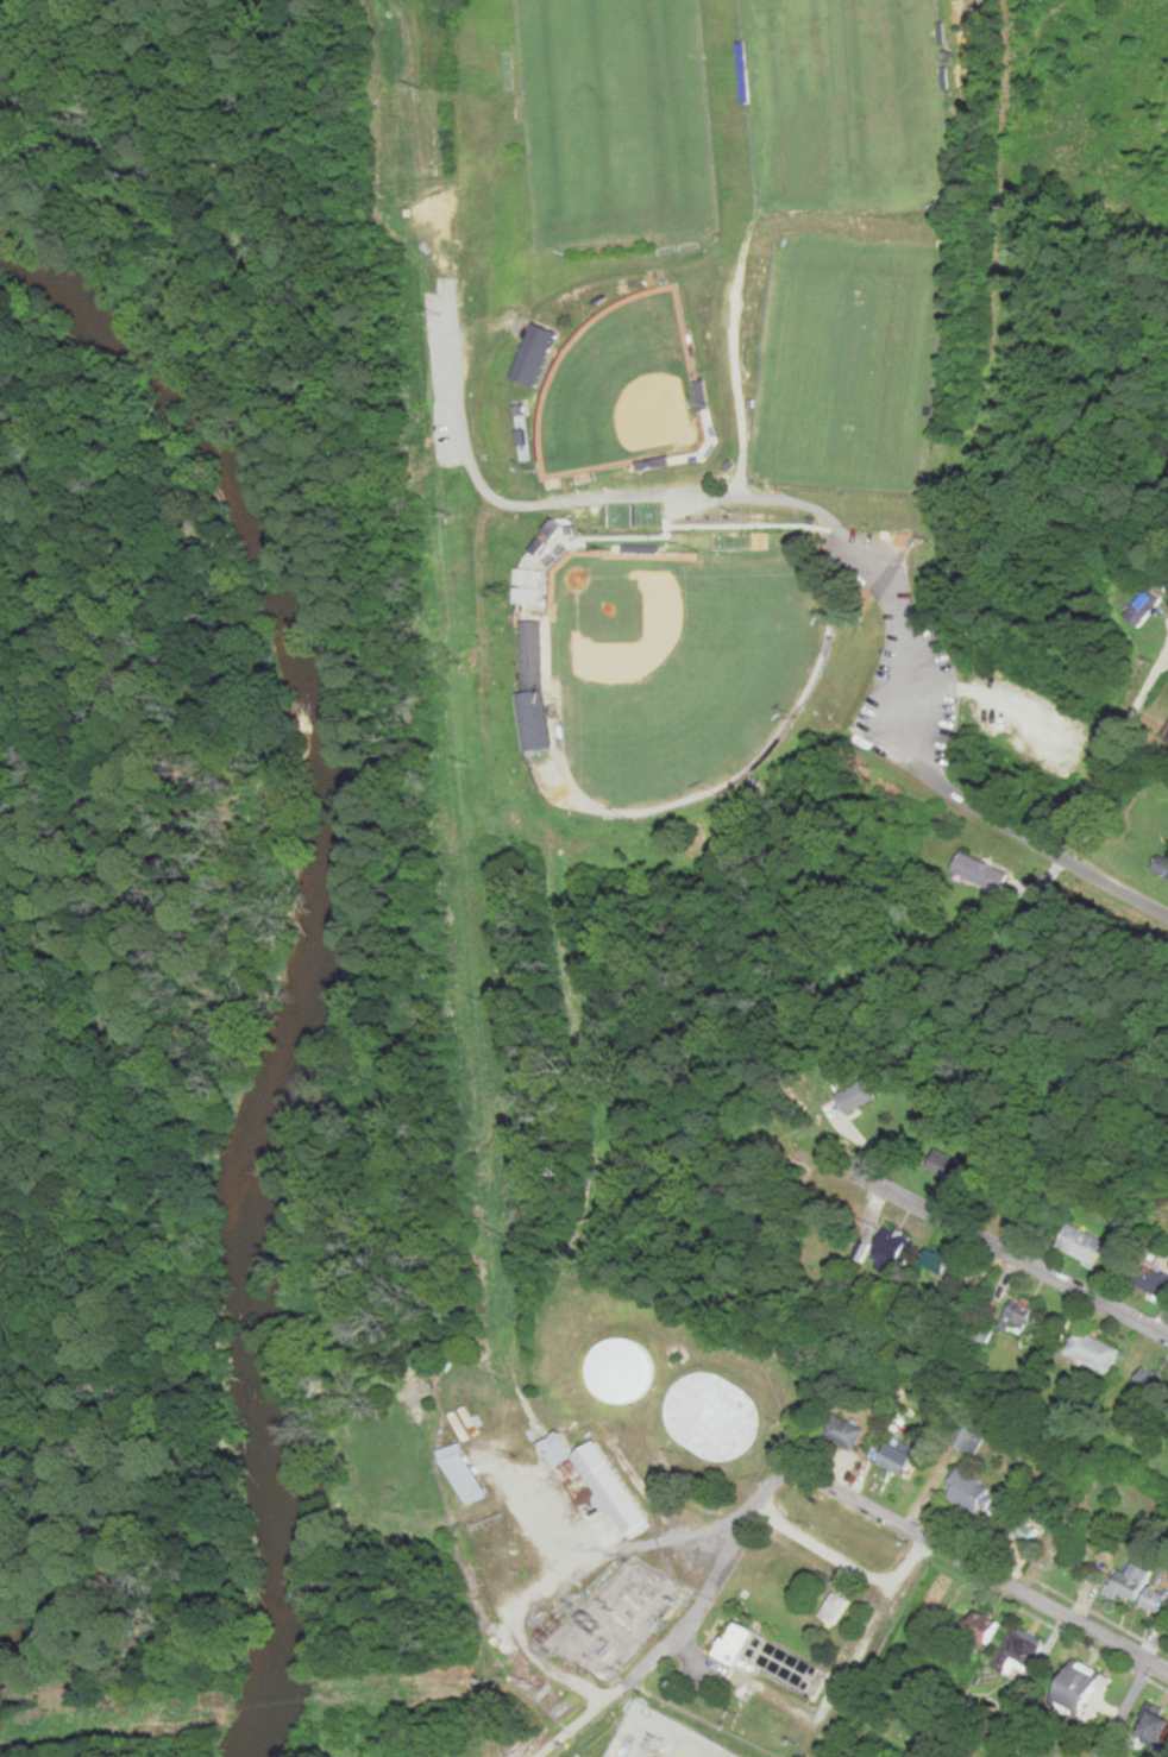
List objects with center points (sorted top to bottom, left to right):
park: (846, 103)
park: (613, 118)
park: (848, 361)
park: (693, 380)
park: (621, 393)
building: (551, 543)
building: (1142, 606)
river: (291, 623)
building: (534, 655)
park: (683, 662)
road: (938, 688)
road: (881, 703)
building: (1164, 731)
road: (1116, 754)
road: (930, 774)
road: (1060, 850)
building: (1161, 863)
building: (978, 869)
building: (853, 1094)
building: (946, 1164)
building: (1015, 1201)
building: (864, 1228)
building: (865, 1242)
building: (1080, 1242)
building: (888, 1246)
road: (1019, 1257)
building: (934, 1259)
building: (1149, 1277)
building: (922, 1295)
building: (1016, 1314)
building: (981, 1331)
building: (1092, 1349)
building: (621, 1371)
building: (1147, 1380)
building: (714, 1416)
building: (842, 1430)
building: (967, 1436)
river: (285, 1441)
building: (557, 1447)
building: (896, 1456)
building: (472, 1466)
building: (616, 1480)
building: (965, 1490)
road: (802, 1531)
building: (1021, 1531)
road: (977, 1567)
building: (1126, 1580)
building: (1153, 1599)
building: (831, 1607)
building: (980, 1627)
road: (868, 1629)
building: (733, 1644)
road: (659, 1646)
building: (1018, 1651)
building: (1076, 1687)
road: (1120, 1708)
building: (1153, 1725)
building: (1078, 1732)

